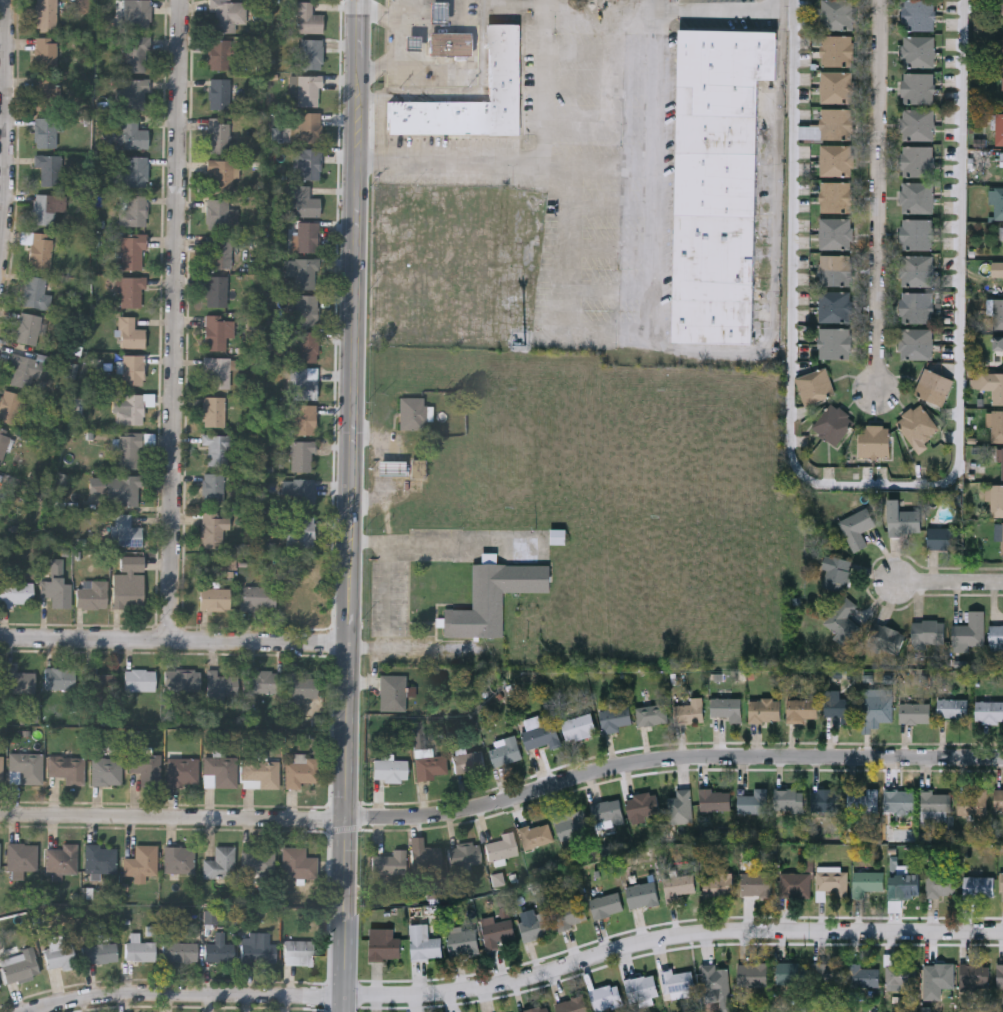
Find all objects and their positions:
road: (399, 10)
road: (725, 11)
building: (138, 14)
building: (226, 14)
building: (436, 14)
gas station: (436, 14)
building: (838, 14)
building: (919, 14)
building: (45, 15)
building: (306, 17)
road: (393, 40)
building: (411, 45)
building: (450, 46)
building: (837, 49)
building: (919, 50)
building: (1000, 52)
building: (45, 53)
building: (310, 53)
building: (219, 54)
building: (134, 55)
building: (505, 64)
building: (1002, 81)
building: (836, 86)
building: (918, 87)
building: (303, 89)
building: (134, 93)
building: (218, 93)
building: (45, 94)
building: (721, 119)
building: (837, 122)
building: (918, 123)
building: (308, 126)
building: (999, 127)
road: (10, 132)
building: (45, 132)
building: (218, 134)
building: (132, 136)
road: (656, 138)
building: (837, 159)
building: (918, 160)
building: (306, 163)
road: (532, 164)
building: (48, 168)
building: (127, 170)
building: (219, 175)
building: (836, 196)
road: (876, 196)
building: (917, 196)
building: (997, 201)
building: (304, 202)
building: (48, 209)
building: (132, 210)
building: (216, 213)
building: (836, 232)
building: (917, 233)
building: (308, 236)
building: (40, 249)
building: (130, 250)
building: (218, 251)
building: (836, 268)
building: (916, 269)
building: (305, 272)
building: (131, 290)
building: (216, 290)
building: (35, 292)
building: (835, 306)
building: (916, 306)
building: (304, 309)
building: (998, 313)
road: (178, 320)
building: (27, 328)
building: (216, 330)
building: (130, 333)
building: (835, 342)
building: (998, 342)
building: (917, 343)
building: (304, 347)
building: (133, 369)
building: (24, 370)
building: (217, 371)
building: (303, 382)
building: (991, 383)
building: (815, 385)
building: (933, 386)
building: (9, 405)
building: (130, 410)
building: (213, 410)
building: (414, 415)
building: (304, 418)
building: (833, 423)
building: (917, 424)
building: (997, 425)
building: (875, 440)
building: (218, 447)
building: (128, 450)
building: (301, 455)
building: (1002, 461)
building: (391, 470)
road: (876, 486)
building: (213, 487)
building: (123, 490)
building: (301, 492)
building: (997, 499)
road: (353, 506)
building: (903, 517)
building: (213, 526)
building: (857, 526)
building: (126, 531)
building: (300, 531)
building: (945, 536)
building: (1001, 537)
building: (559, 538)
road: (446, 543)
parking lot: (445, 546)
building: (836, 571)
building: (128, 583)
road: (951, 583)
building: (56, 591)
building: (16, 592)
building: (91, 594)
building: (257, 597)
building: (214, 599)
parking lot: (392, 601)
building: (492, 601)
road: (389, 618)
building: (843, 619)
building: (971, 628)
building: (929, 630)
building: (996, 634)
building: (887, 637)
road: (175, 641)
road: (435, 652)
parking lot: (453, 654)
building: (59, 678)
building: (139, 679)
building: (17, 680)
building: (100, 680)
building: (183, 680)
building: (260, 681)
building: (300, 685)
building: (220, 688)
building: (392, 692)
building: (726, 706)
building: (839, 707)
building: (764, 708)
building: (802, 708)
building: (953, 708)
building: (878, 710)
building: (989, 710)
building: (690, 711)
building: (915, 712)
building: (651, 713)
building: (615, 715)
building: (578, 726)
building: (541, 735)
building: (504, 751)
building: (467, 761)
building: (430, 765)
building: (25, 768)
building: (146, 769)
building: (1, 770)
building: (68, 770)
building: (389, 770)
building: (106, 771)
building: (182, 771)
building: (220, 771)
building: (300, 772)
building: (261, 773)
building: (714, 799)
building: (788, 799)
building: (824, 799)
building: (998, 799)
road: (502, 800)
building: (752, 800)
building: (899, 800)
building: (972, 801)
building: (862, 802)
building: (642, 804)
building: (935, 804)
building: (680, 805)
building: (606, 811)
building: (571, 822)
building: (536, 834)
building: (501, 846)
building: (464, 854)
building: (21, 857)
building: (101, 858)
building: (425, 858)
building: (0, 859)
building: (61, 859)
building: (178, 859)
building: (258, 859)
building: (141, 861)
building: (297, 862)
building: (388, 862)
building: (219, 863)
building: (1001, 879)
building: (832, 881)
building: (866, 881)
building: (757, 882)
building: (679, 883)
building: (718, 883)
building: (794, 883)
building: (941, 883)
building: (905, 884)
building: (978, 884)
building: (641, 893)
building: (606, 903)
building: (569, 912)
building: (534, 925)
building: (496, 931)
building: (463, 940)
building: (424, 942)
building: (383, 943)
building: (257, 948)
building: (139, 950)
building: (180, 951)
building: (219, 951)
building: (299, 951)
building: (99, 952)
building: (58, 956)
building: (19, 966)
building: (791, 972)
building: (752, 973)
building: (826, 973)
building: (975, 974)
building: (999, 974)
building: (862, 975)
building: (900, 975)
building: (938, 975)
road: (521, 979)
building: (715, 979)
building: (677, 980)
building: (640, 986)
building: (0, 989)
building: (605, 996)
building: (571, 1004)
building: (536, 1009)

